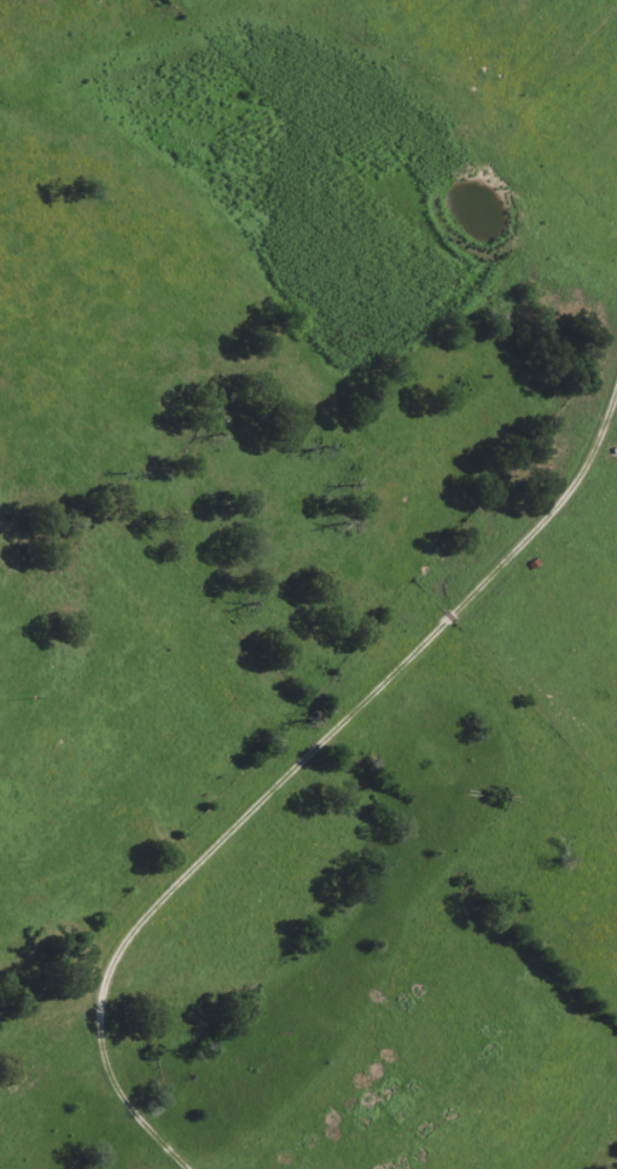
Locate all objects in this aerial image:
road: (574, 1053)

